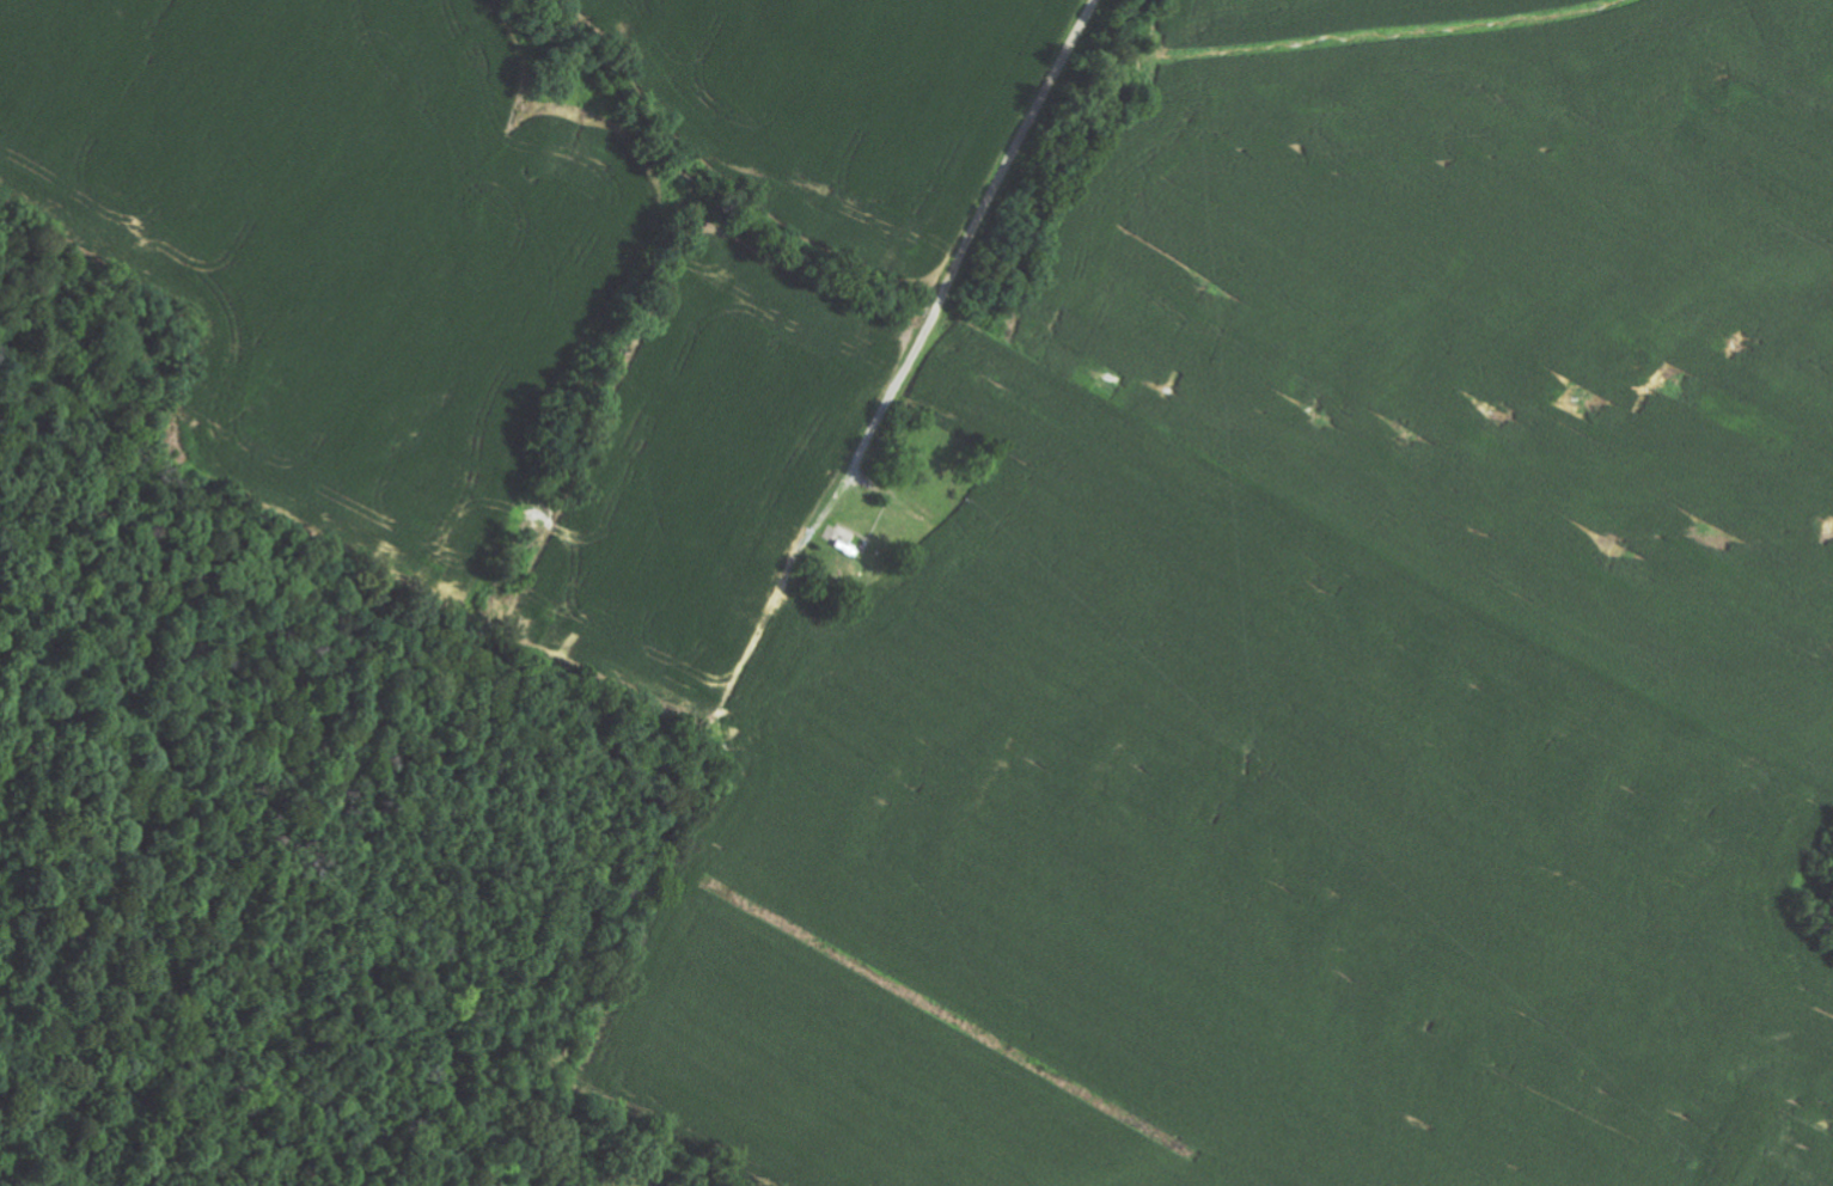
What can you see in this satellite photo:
road: (967, 249)

